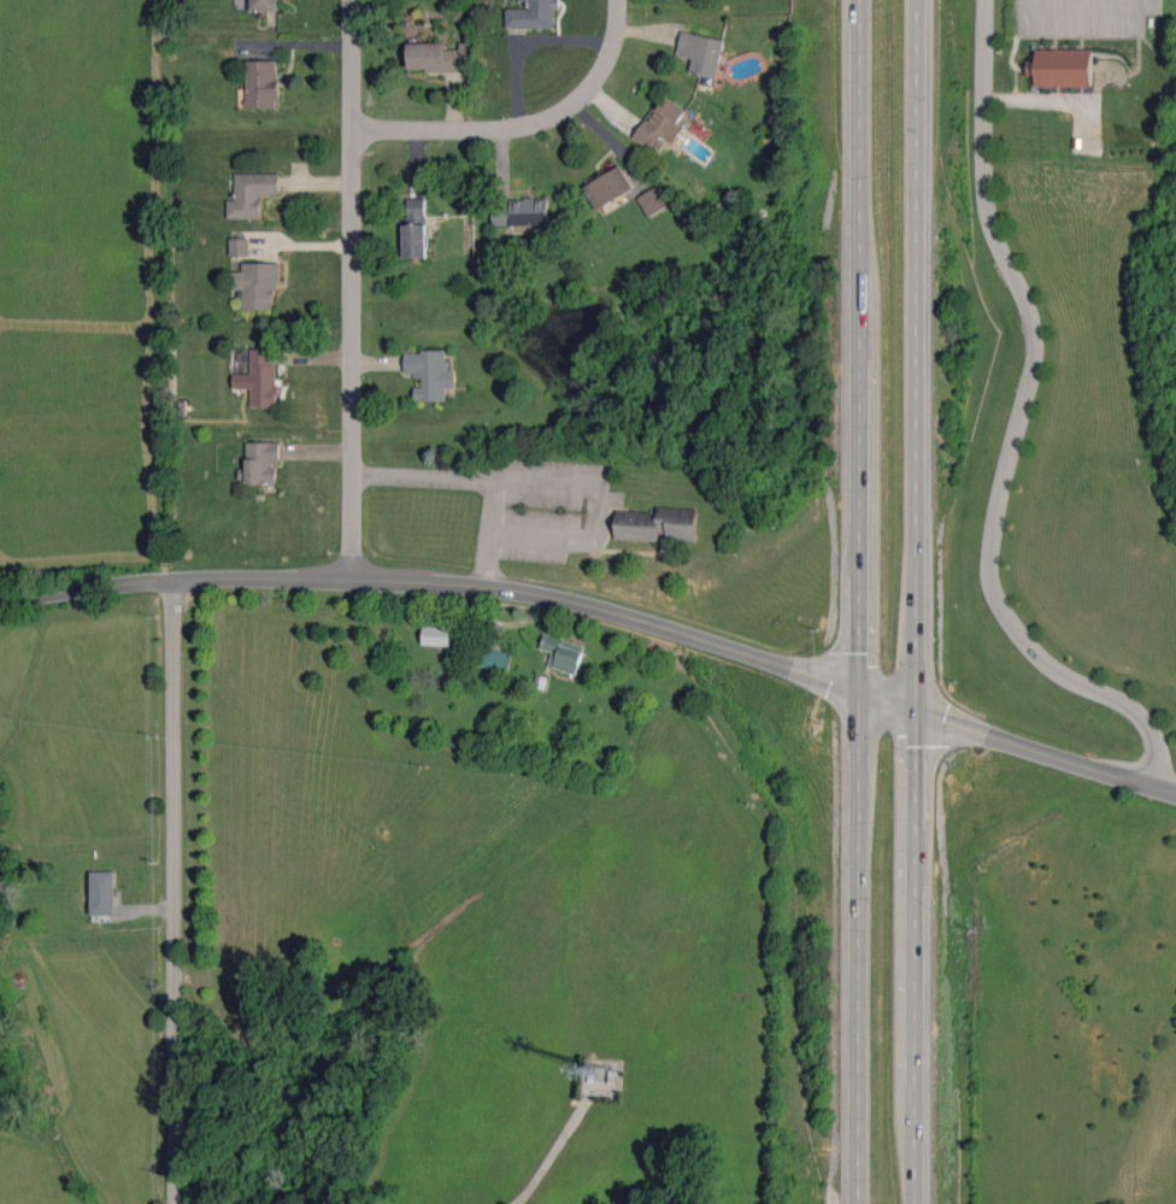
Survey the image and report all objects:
building: (263, 5)
building: (533, 13)
road: (1088, 17)
road: (527, 42)
building: (701, 53)
building: (439, 57)
building: (1062, 67)
building: (261, 83)
building: (663, 122)
road: (524, 124)
building: (608, 186)
building: (252, 194)
building: (654, 200)
building: (416, 210)
building: (522, 212)
building: (416, 240)
building: (239, 246)
building: (258, 284)
road: (352, 289)
building: (430, 374)
building: (259, 378)
road: (1016, 430)
building: (260, 463)
road: (471, 478)
building: (657, 524)
road: (468, 586)
road: (859, 601)
road: (919, 601)
building: (436, 635)
building: (563, 653)
building: (495, 658)
road: (1047, 754)
building: (101, 892)
road: (174, 892)

